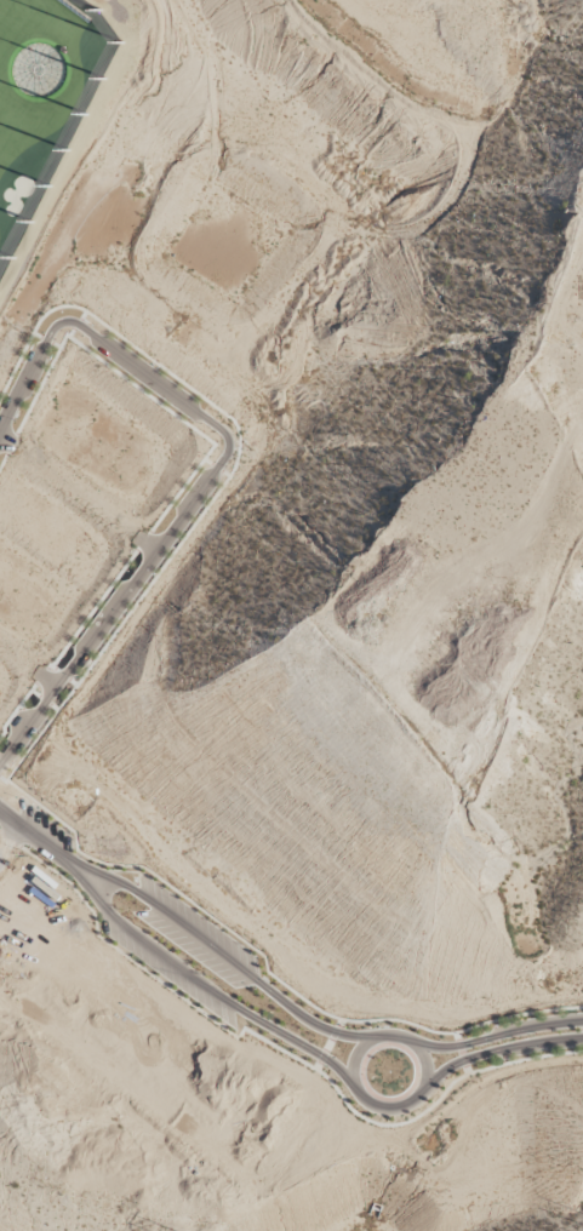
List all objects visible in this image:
road: (82, 316)
road: (76, 325)
road: (72, 333)
road: (38, 337)
road: (46, 340)
road: (55, 345)
road: (139, 390)
road: (7, 442)
road: (12, 445)
road: (4, 460)
road: (207, 462)
road: (215, 468)
road: (216, 469)
road: (224, 474)
road: (227, 479)
road: (75, 489)
road: (142, 542)
road: (144, 543)
road: (93, 608)
road: (17, 658)
road: (50, 666)
road: (62, 674)
road: (40, 676)
road: (45, 679)
road: (72, 682)
road: (35, 694)
road: (45, 700)
road: (21, 708)
road: (53, 708)
road: (16, 710)
road: (22, 721)
road: (39, 841)
road: (234, 964)
road: (265, 969)
road: (222, 998)
road: (339, 1024)
road: (333, 1032)
road: (457, 1037)
road: (490, 1038)
road: (328, 1046)
road: (458, 1046)
road: (284, 1052)
road: (461, 1053)
road: (321, 1057)
road: (474, 1057)
road: (355, 1058)
road: (463, 1060)
road: (425, 1064)
road: (318, 1065)
road: (465, 1070)

